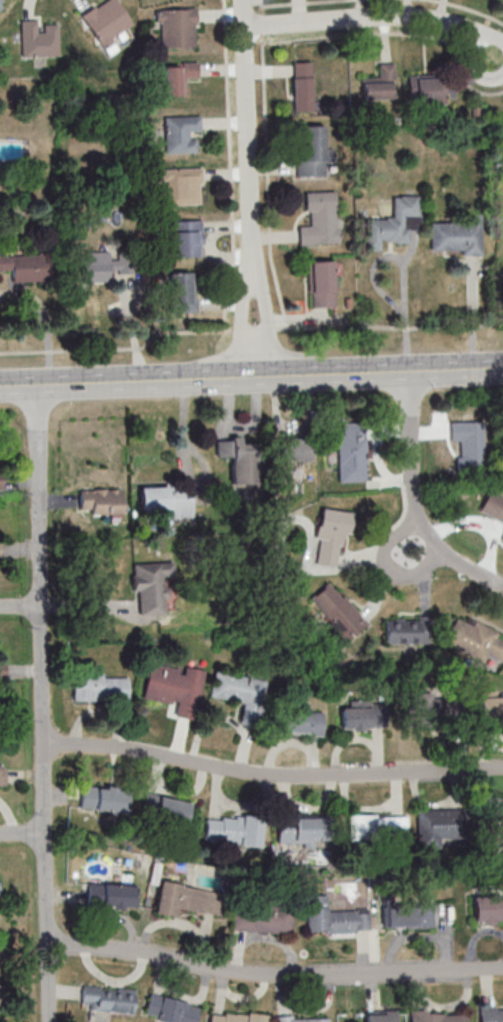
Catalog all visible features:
building: (1, 3)
road: (382, 21)
building: (106, 24)
building: (175, 28)
building: (38, 39)
building: (178, 77)
building: (379, 83)
building: (302, 86)
building: (426, 89)
building: (178, 134)
building: (312, 152)
building: (181, 187)
road: (250, 187)
building: (318, 220)
building: (394, 223)
building: (456, 236)
building: (185, 239)
building: (25, 264)
building: (104, 265)
road: (402, 269)
building: (322, 284)
building: (180, 294)
road: (472, 315)
road: (251, 375)
building: (468, 448)
building: (296, 449)
building: (351, 451)
building: (238, 459)
building: (0, 481)
road: (415, 499)
building: (100, 501)
building: (167, 502)
building: (492, 507)
building: (329, 535)
building: (502, 539)
building: (0, 550)
road: (388, 567)
building: (151, 586)
road: (20, 608)
building: (338, 613)
building: (406, 631)
building: (475, 639)
building: (2, 666)
building: (173, 688)
building: (98, 689)
building: (240, 694)
road: (42, 703)
building: (490, 709)
building: (436, 713)
building: (362, 716)
building: (296, 723)
building: (2, 772)
road: (271, 774)
building: (104, 799)
building: (164, 811)
building: (492, 822)
building: (435, 823)
building: (367, 828)
building: (295, 830)
building: (233, 831)
road: (22, 832)
building: (0, 892)
building: (111, 895)
building: (183, 900)
building: (486, 909)
building: (406, 916)
building: (260, 918)
building: (331, 918)
road: (273, 975)
building: (2, 998)
building: (107, 999)
building: (169, 1010)
building: (380, 1016)
building: (497, 1016)
building: (433, 1017)
building: (237, 1018)
building: (305, 1020)

